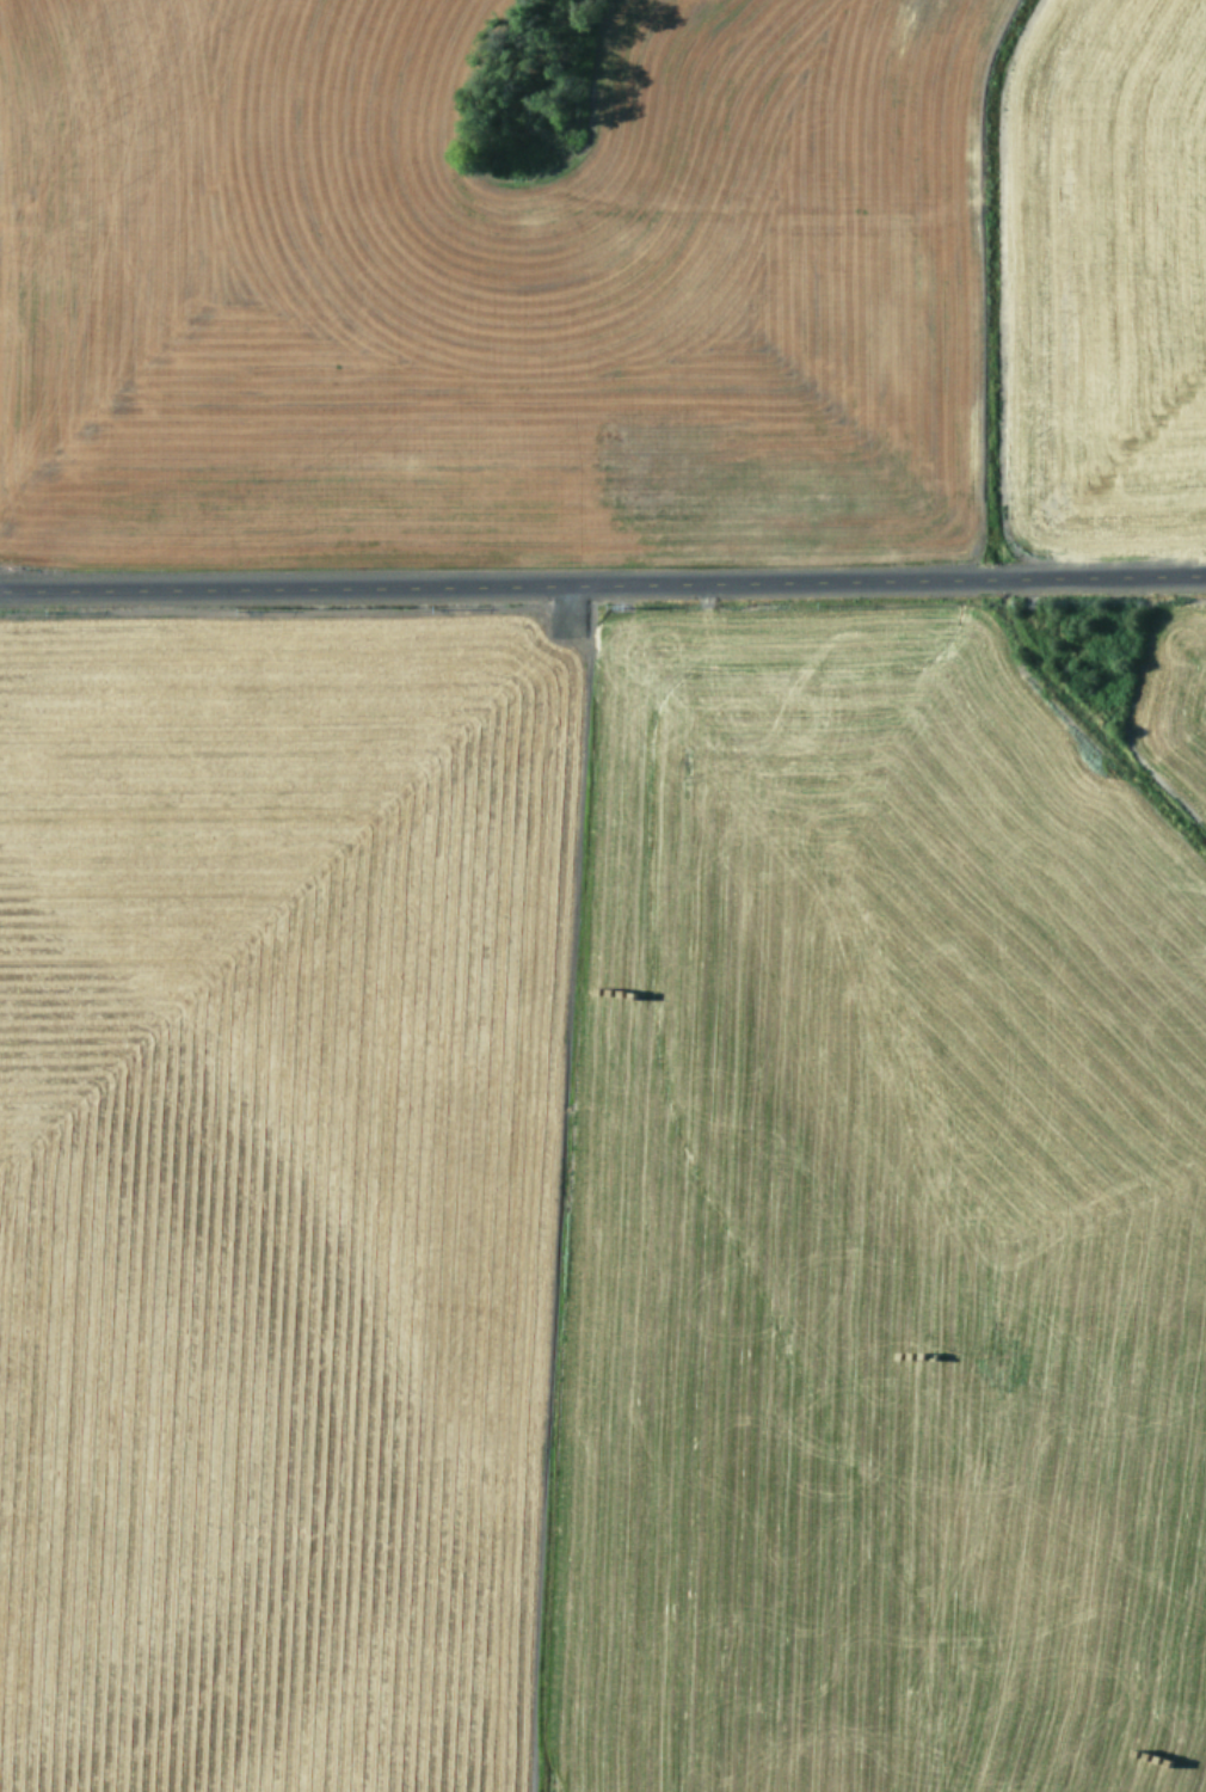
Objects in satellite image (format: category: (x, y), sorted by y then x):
road: (603, 588)
crop: (603, 896)

